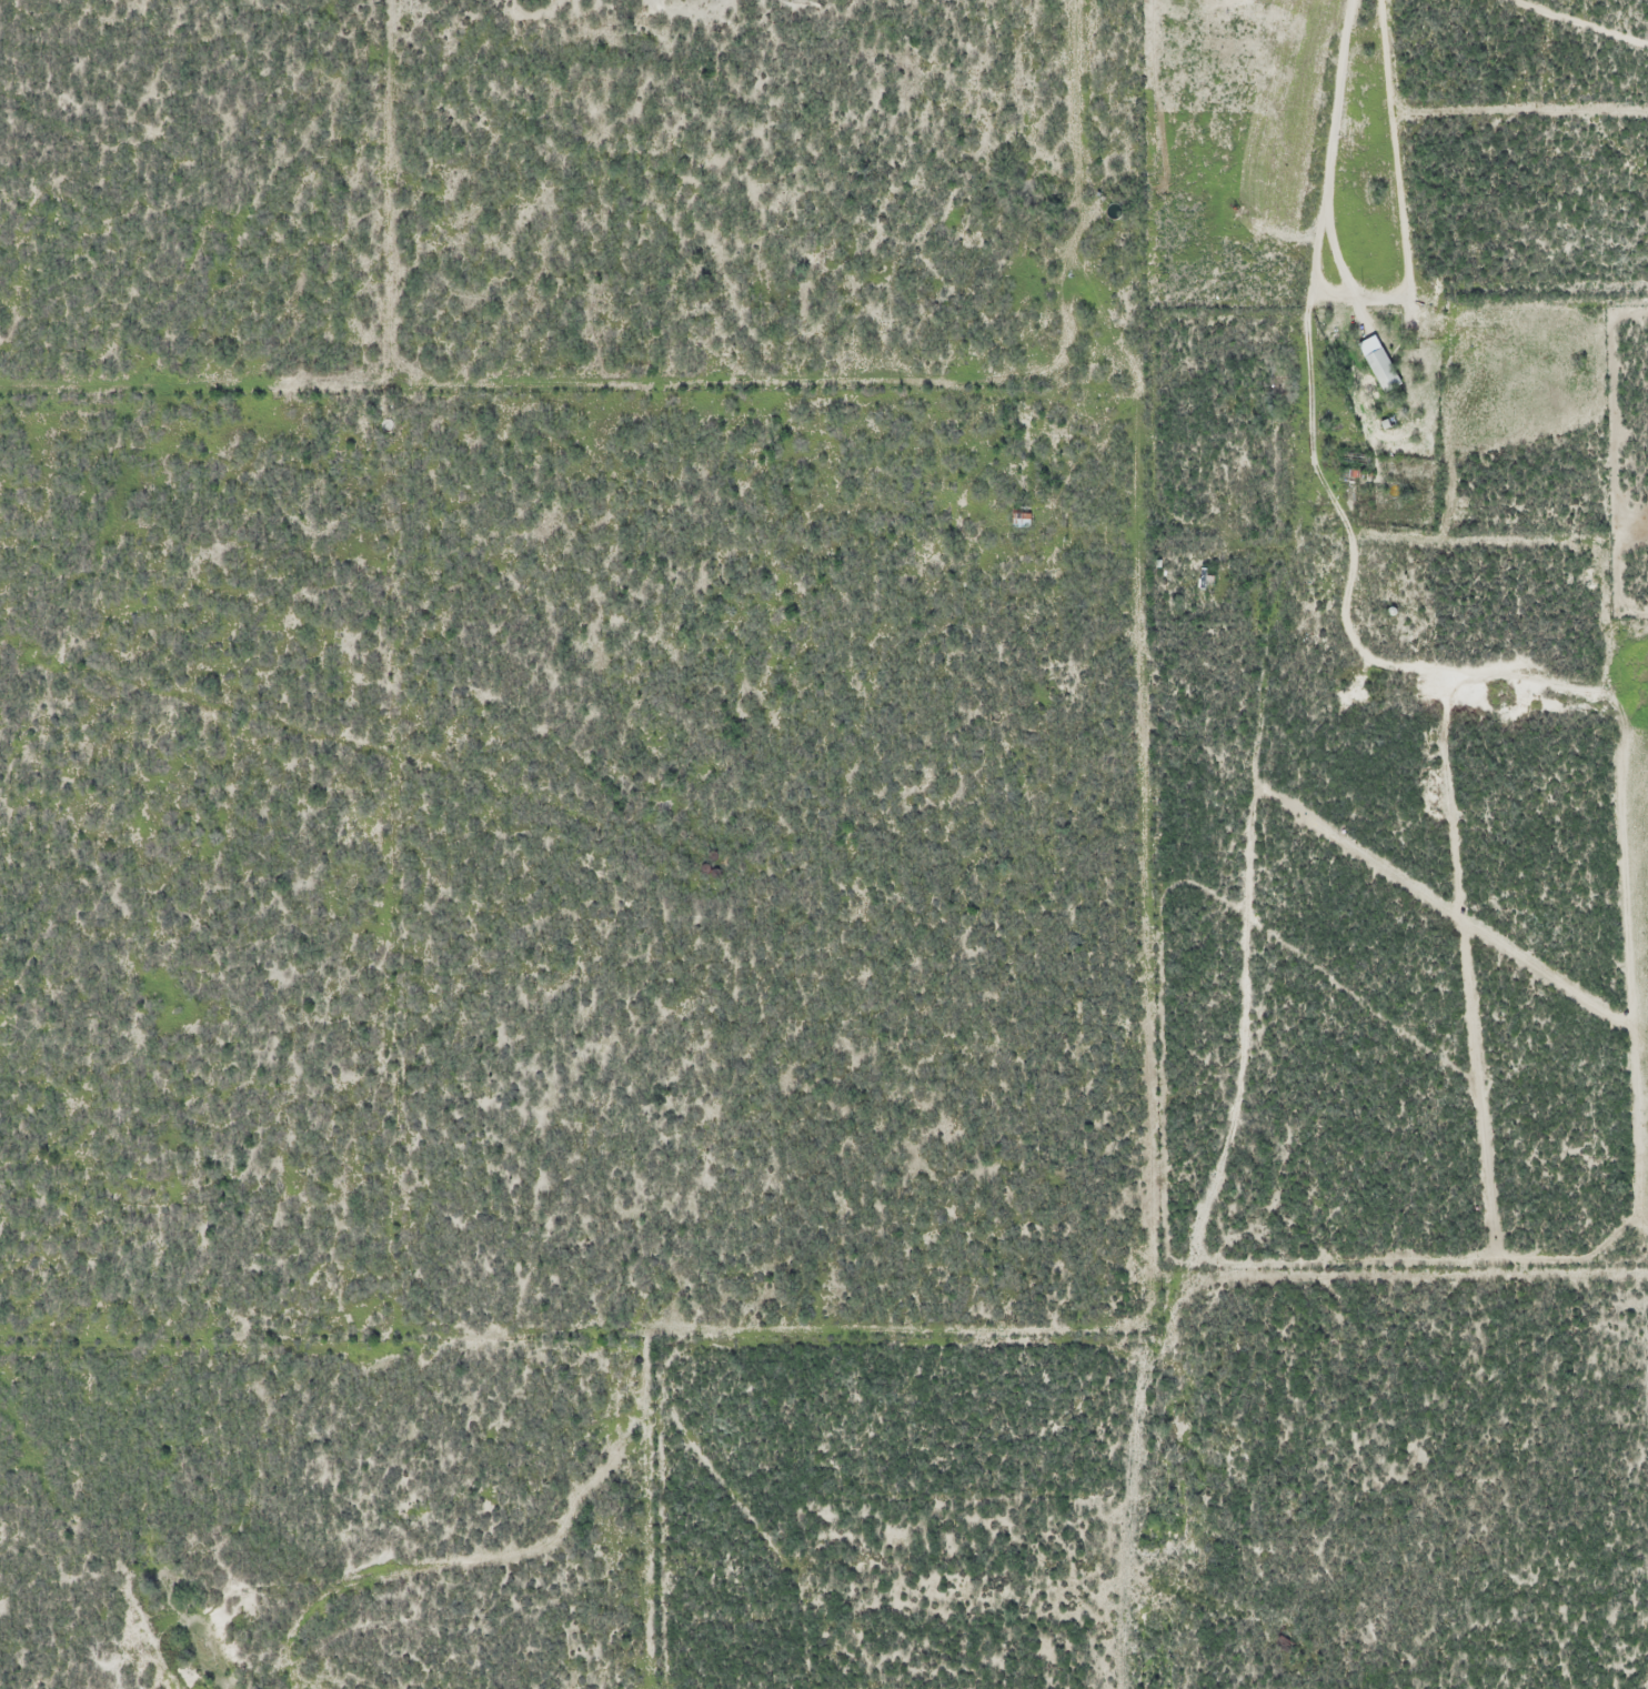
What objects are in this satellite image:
road: (1325, 174)
building: (1379, 370)
building: (1017, 517)

